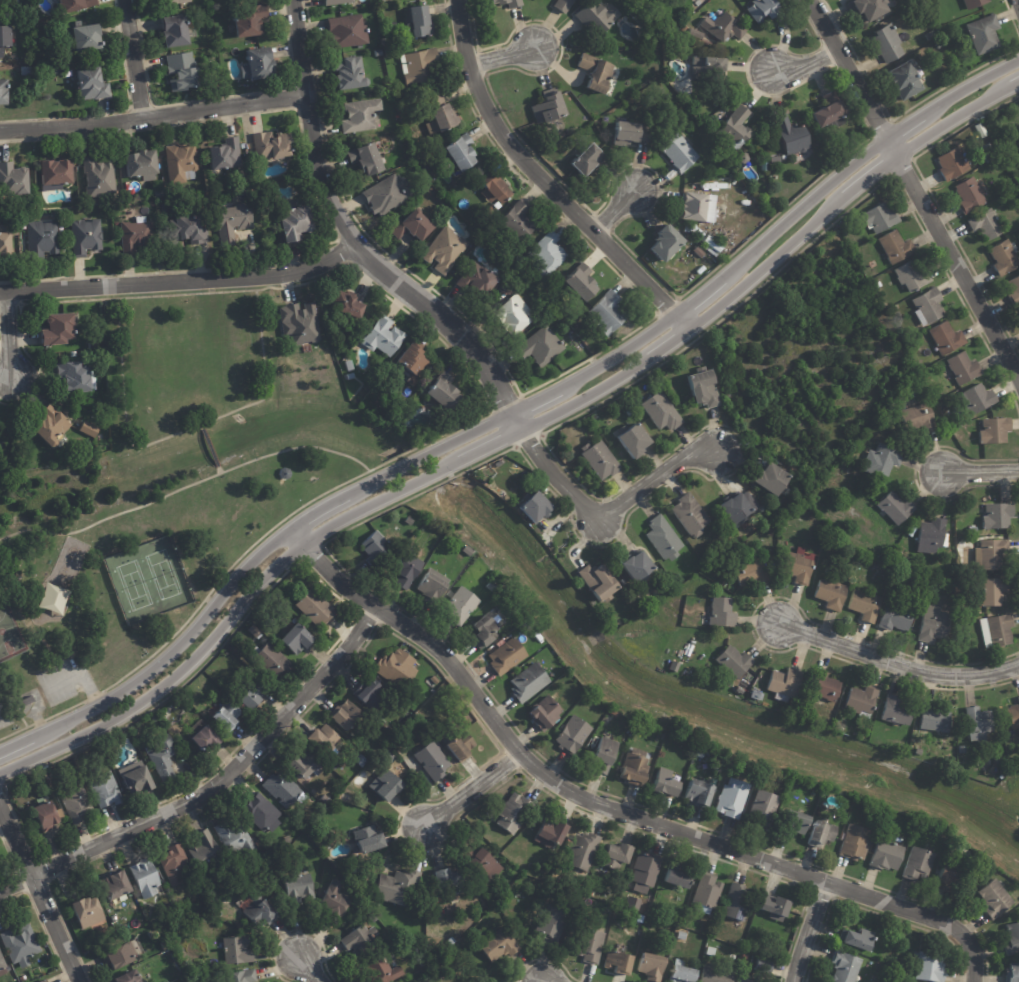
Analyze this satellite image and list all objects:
building: (180, 1)
building: (382, 1)
building: (338, 2)
building: (972, 3)
building: (562, 4)
building: (514, 5)
building: (77, 6)
building: (865, 8)
building: (766, 12)
building: (593, 18)
building: (252, 21)
building: (422, 22)
building: (722, 28)
building: (179, 31)
building: (350, 31)
building: (695, 34)
building: (930, 34)
building: (982, 34)
building: (88, 38)
building: (6, 39)
building: (884, 44)
building: (938, 46)
building: (379, 53)
building: (390, 53)
road: (503, 57)
road: (139, 58)
building: (261, 65)
building: (711, 65)
building: (420, 66)
road: (811, 68)
building: (28, 70)
building: (58, 71)
building: (184, 72)
building: (355, 74)
building: (596, 74)
road: (857, 79)
building: (903, 80)
building: (95, 85)
building: (4, 92)
building: (548, 108)
building: (828, 113)
road: (155, 115)
building: (361, 115)
building: (446, 119)
building: (734, 128)
building: (623, 133)
building: (791, 135)
building: (245, 146)
building: (274, 146)
building: (1002, 146)
building: (986, 151)
building: (464, 152)
building: (677, 153)
building: (229, 155)
building: (586, 159)
building: (370, 160)
building: (776, 160)
building: (183, 163)
building: (951, 163)
building: (142, 165)
building: (449, 165)
building: (765, 166)
building: (57, 174)
building: (101, 176)
building: (14, 179)
road: (551, 181)
building: (1000, 190)
building: (499, 192)
building: (391, 194)
building: (968, 195)
building: (155, 204)
road: (622, 204)
building: (695, 208)
building: (878, 216)
building: (236, 222)
building: (519, 223)
building: (298, 224)
building: (985, 224)
building: (727, 226)
building: (686, 227)
building: (413, 228)
building: (190, 230)
building: (695, 231)
building: (139, 236)
building: (87, 238)
building: (44, 240)
building: (662, 242)
building: (7, 243)
building: (712, 244)
building: (894, 245)
building: (447, 249)
building: (698, 252)
building: (547, 256)
building: (1003, 257)
road: (961, 266)
building: (911, 276)
building: (479, 279)
building: (583, 282)
road: (179, 284)
building: (878, 284)
building: (1013, 290)
building: (528, 297)
building: (350, 304)
building: (926, 306)
building: (611, 314)
building: (518, 315)
building: (539, 320)
building: (302, 324)
building: (580, 326)
building: (59, 329)
road: (454, 329)
building: (386, 337)
building: (944, 338)
road: (12, 340)
building: (543, 346)
building: (94, 347)
building: (75, 354)
building: (413, 363)
building: (351, 366)
building: (962, 368)
road: (267, 371)
building: (927, 376)
building: (78, 377)
building: (352, 377)
building: (704, 389)
building: (448, 393)
building: (976, 398)
building: (660, 411)
road: (511, 412)
building: (628, 412)
building: (918, 417)
building: (55, 428)
building: (90, 429)
building: (993, 429)
building: (959, 431)
road: (508, 439)
building: (633, 440)
road: (215, 454)
building: (598, 459)
building: (880, 459)
road: (983, 473)
building: (771, 480)
park: (153, 501)
building: (772, 504)
building: (532, 506)
building: (737, 508)
building: (761, 508)
building: (893, 508)
building: (688, 515)
building: (996, 515)
building: (409, 521)
building: (930, 535)
building: (663, 537)
building: (414, 538)
building: (372, 544)
building: (467, 551)
building: (990, 554)
building: (897, 556)
building: (882, 558)
building: (798, 565)
building: (636, 566)
building: (405, 569)
building: (750, 571)
park: (147, 578)
building: (599, 582)
building: (490, 586)
building: (430, 587)
building: (990, 590)
building: (831, 593)
building: (53, 598)
building: (459, 605)
building: (864, 605)
building: (316, 608)
building: (722, 612)
building: (895, 617)
building: (934, 624)
building: (482, 630)
building: (995, 630)
building: (256, 631)
park: (8, 633)
building: (299, 639)
building: (505, 655)
road: (900, 659)
building: (733, 661)
building: (274, 663)
building: (400, 668)
building: (435, 680)
building: (526, 682)
building: (784, 683)
parking lot: (42, 684)
building: (823, 686)
building: (435, 690)
building: (373, 694)
building: (255, 695)
building: (1018, 698)
building: (860, 701)
building: (29, 703)
building: (896, 711)
building: (543, 712)
building: (612, 713)
building: (230, 714)
building: (1013, 715)
building: (349, 716)
building: (154, 717)
building: (465, 718)
building: (934, 718)
building: (978, 723)
building: (571, 735)
building: (205, 737)
building: (325, 740)
building: (181, 742)
building: (463, 746)
building: (962, 749)
building: (917, 752)
building: (699, 754)
building: (603, 755)
building: (391, 757)
building: (163, 758)
building: (1013, 760)
building: (364, 761)
building: (434, 761)
building: (308, 767)
building: (631, 768)
building: (1002, 774)
building: (139, 781)
building: (712, 781)
building: (661, 782)
building: (388, 786)
road: (218, 788)
building: (283, 789)
building: (106, 790)
building: (696, 793)
road: (470, 795)
building: (346, 797)
building: (731, 798)
building: (79, 805)
building: (762, 809)
road: (609, 810)
building: (512, 812)
building: (264, 813)
building: (47, 817)
building: (791, 824)
building: (550, 831)
building: (820, 833)
building: (879, 833)
building: (237, 837)
building: (368, 840)
building: (853, 843)
building: (582, 850)
building: (274, 851)
building: (207, 853)
building: (615, 856)
building: (886, 856)
building: (479, 862)
building: (177, 864)
building: (918, 865)
building: (645, 868)
building: (676, 876)
building: (147, 878)
building: (946, 879)
building: (444, 880)
building: (534, 880)
building: (397, 885)
building: (118, 887)
road: (41, 888)
building: (301, 888)
building: (705, 888)
building: (591, 892)
building: (994, 898)
building: (736, 901)
building: (633, 902)
building: (335, 903)
building: (502, 904)
building: (774, 906)
building: (261, 912)
building: (90, 914)
building: (619, 914)
building: (372, 917)
building: (550, 922)
road: (807, 931)
building: (681, 934)
building: (894, 934)
building: (857, 937)
building: (360, 939)
building: (1012, 939)
building: (589, 943)
building: (496, 944)
building: (166, 945)
building: (22, 946)
building: (238, 950)
building: (121, 956)
building: (745, 956)
building: (618, 962)
building: (420, 963)
building: (2, 964)
building: (764, 964)
building: (651, 965)
building: (413, 966)
building: (845, 966)
building: (929, 966)
road: (313, 970)
building: (382, 970)
building: (679, 972)
building: (1013, 972)
building: (714, 974)
building: (242, 976)
building: (131, 977)
building: (25, 978)
building: (745, 979)
road: (537, 980)
building: (42, 981)
building: (46, 981)

